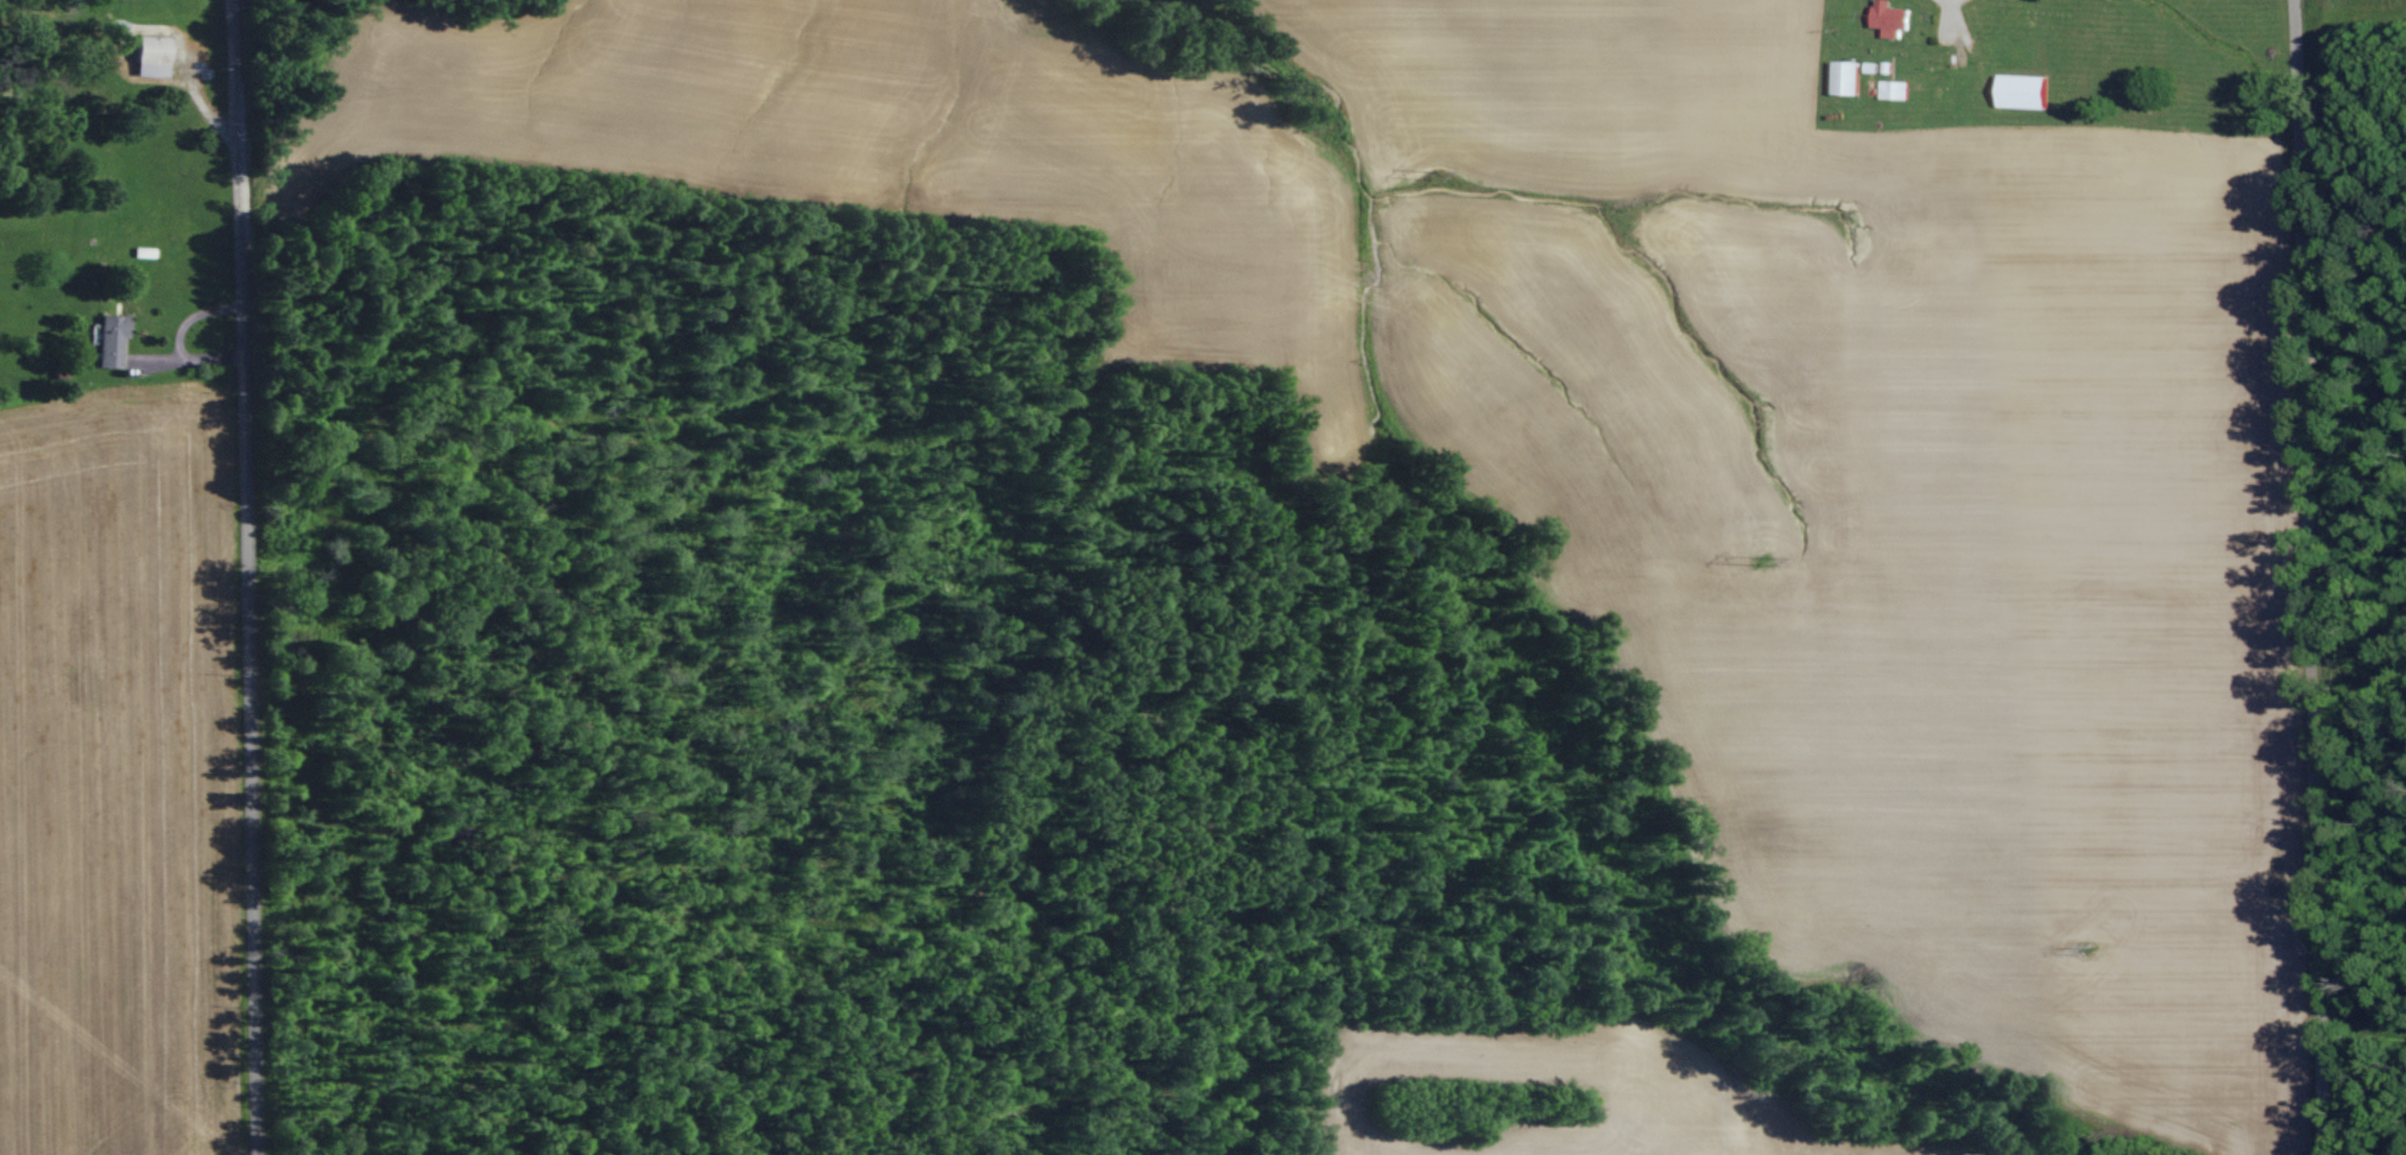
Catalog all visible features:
building: (1895, 18)
building: (150, 61)
building: (112, 337)
road: (165, 381)
road: (238, 576)
road: (2312, 576)

